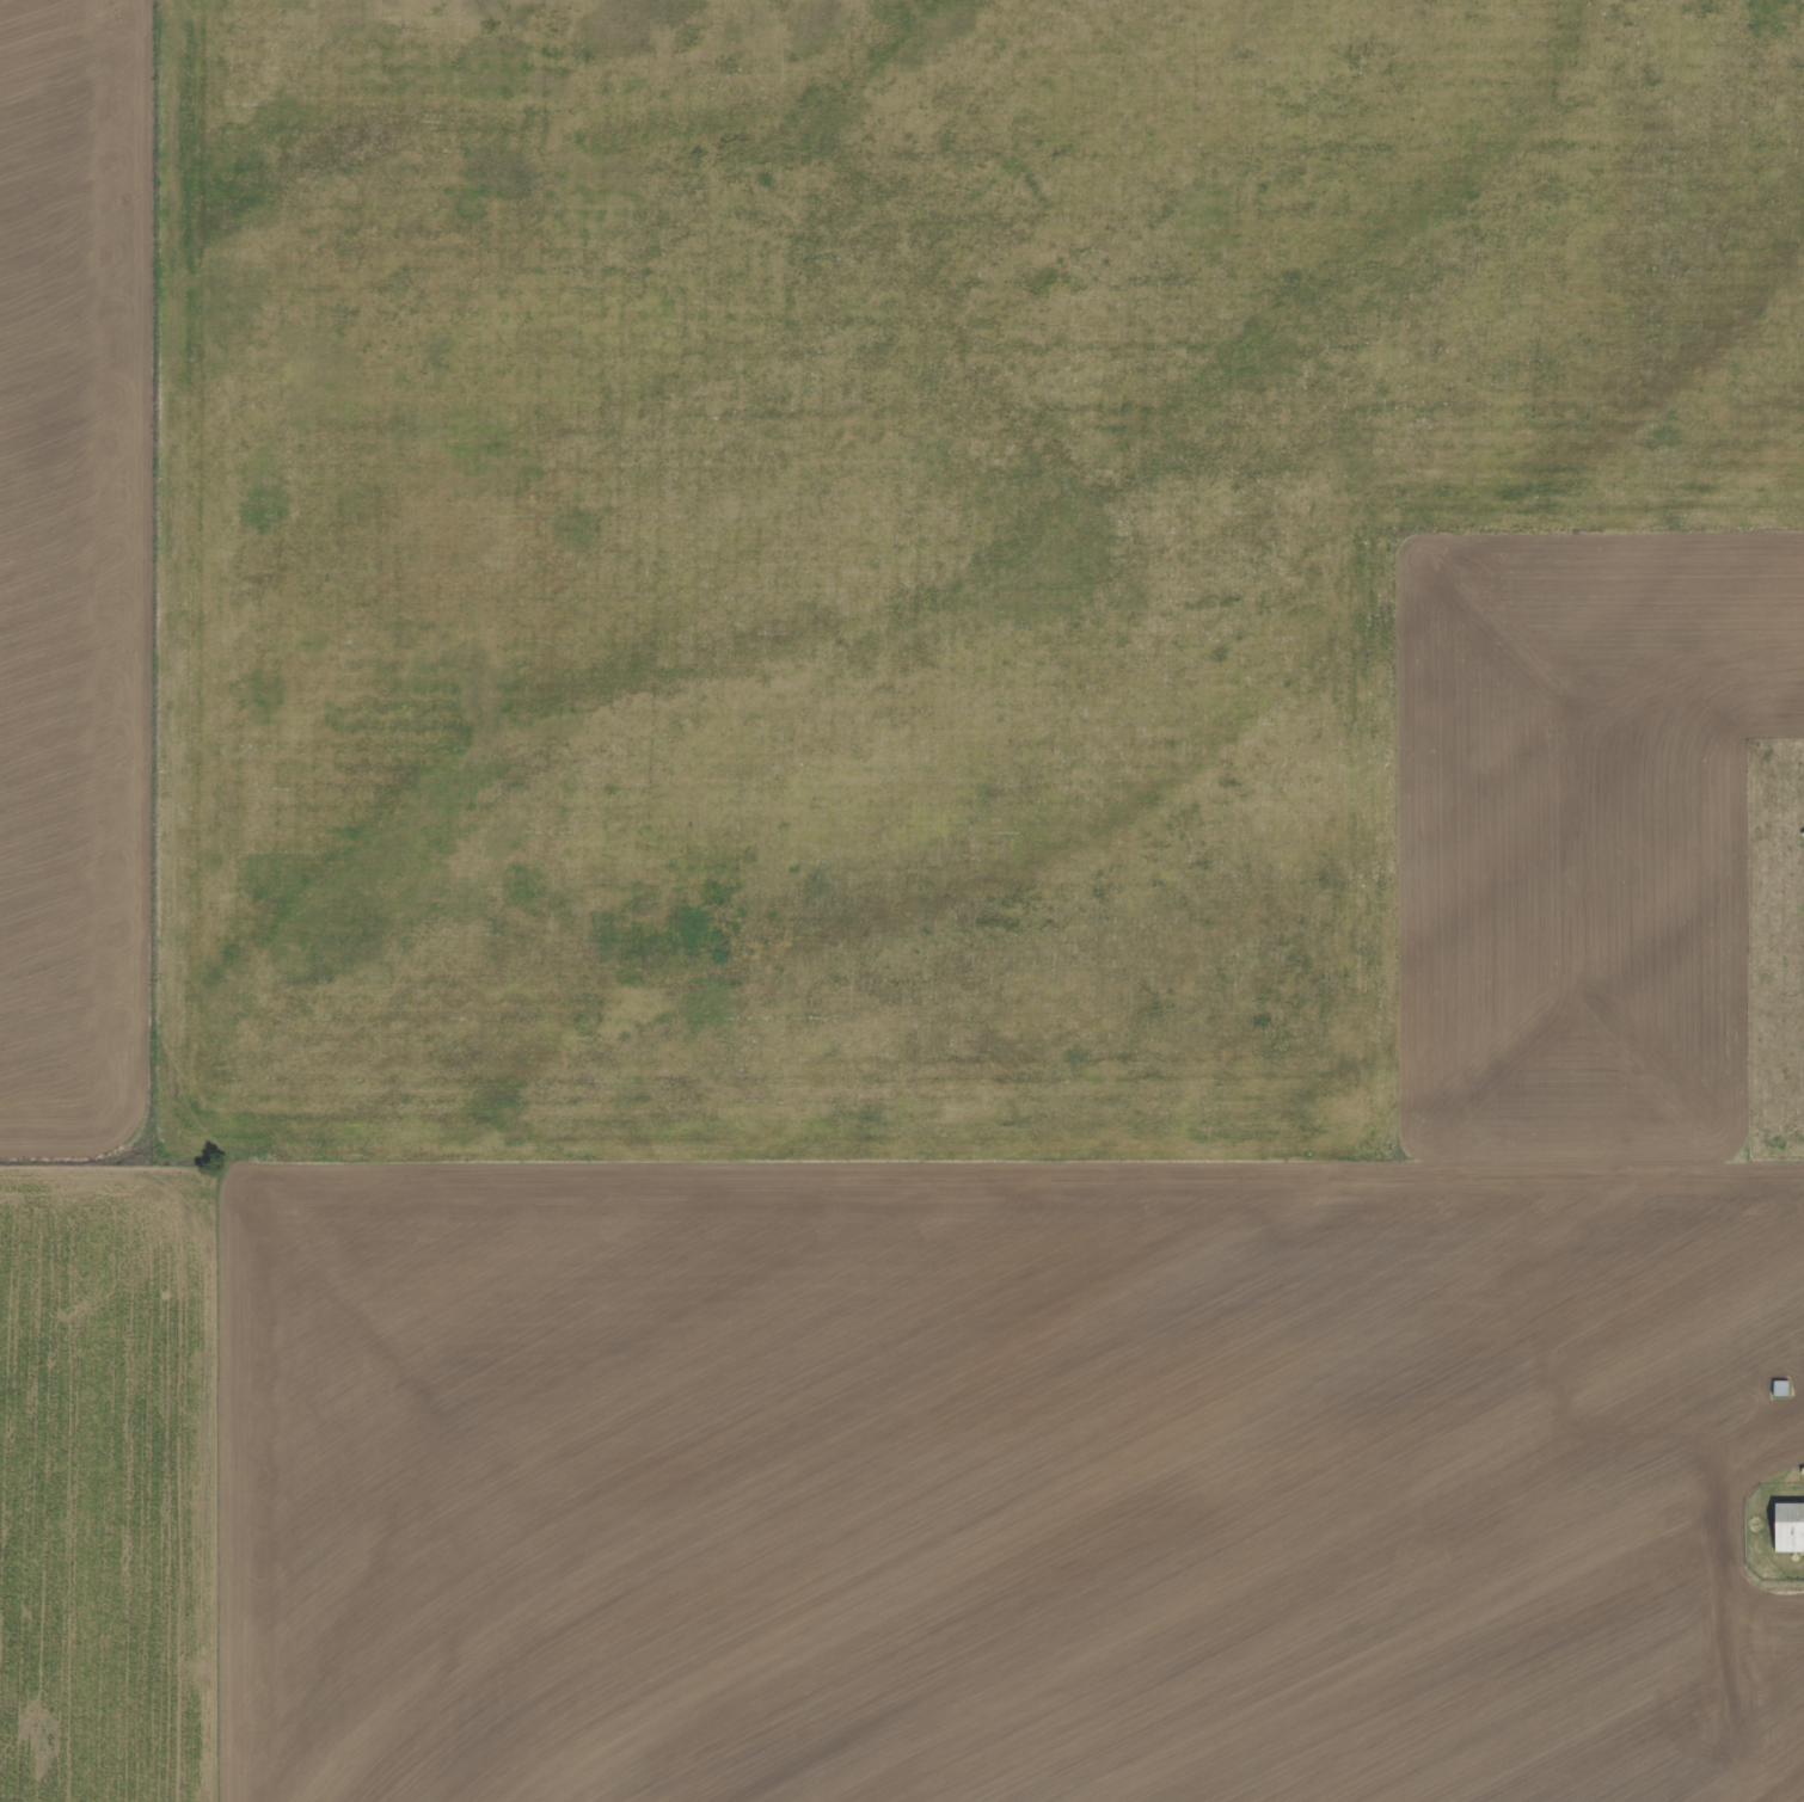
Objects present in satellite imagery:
building: (1786, 1536)

